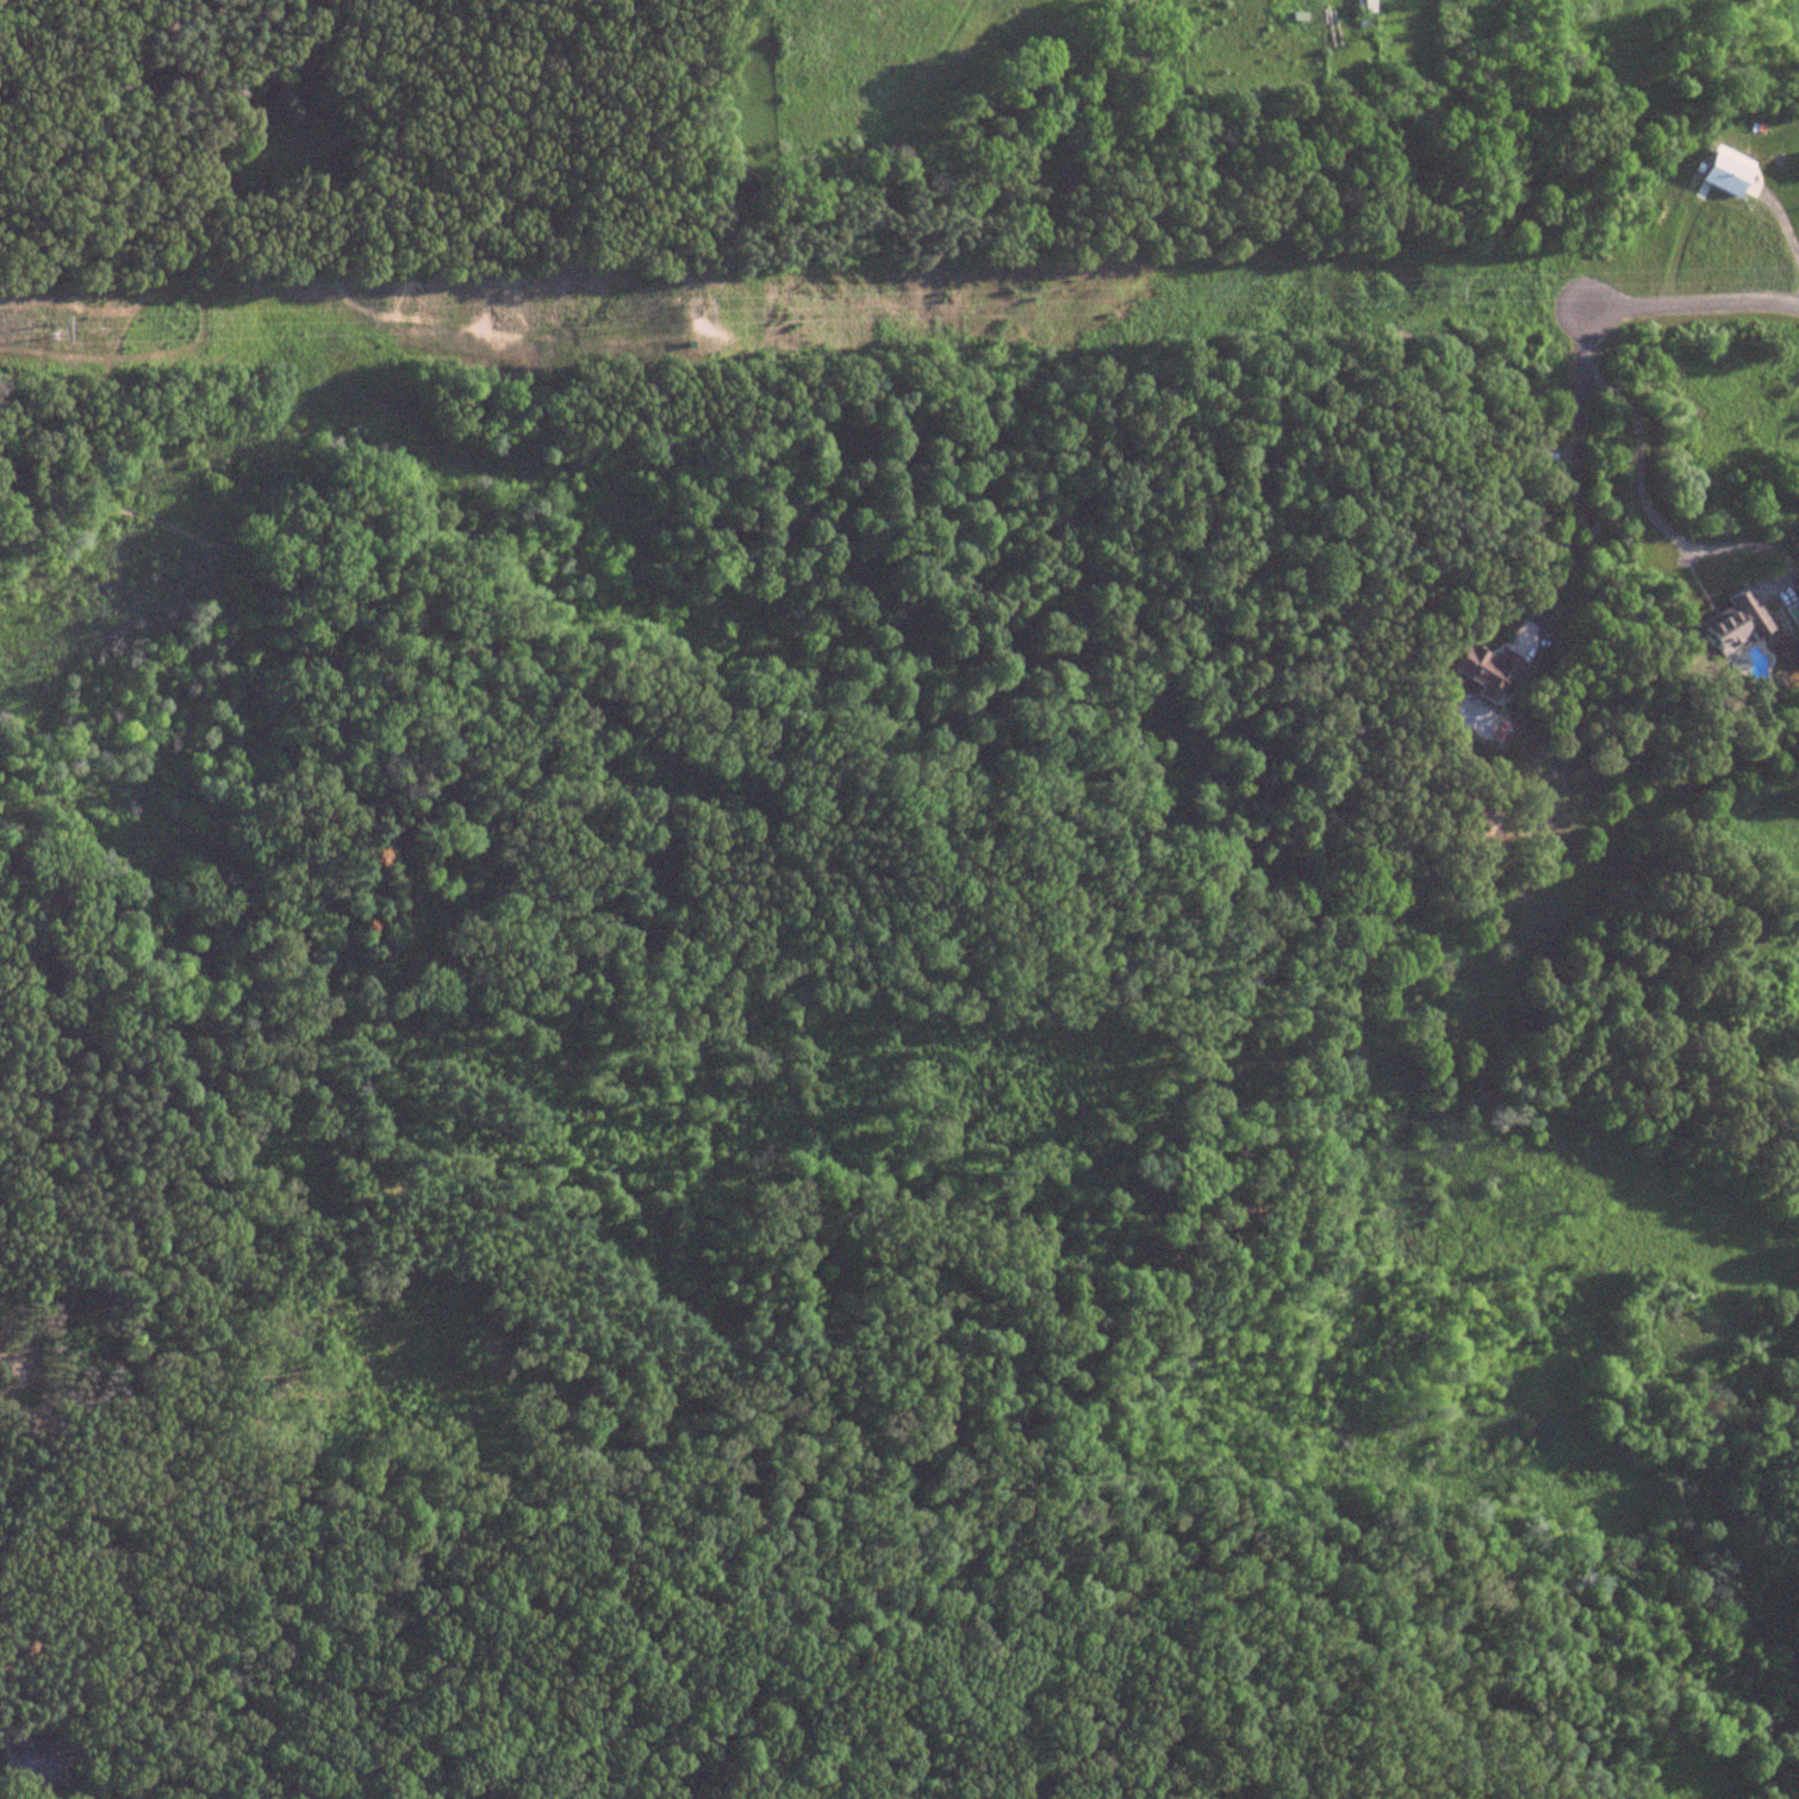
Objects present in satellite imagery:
building: (1363, 6)
road: (1691, 304)
road: (1583, 340)
road: (1645, 503)
road: (1571, 512)
building: (1793, 614)
building: (1736, 623)
building: (1484, 668)
building: (26, 1760)

